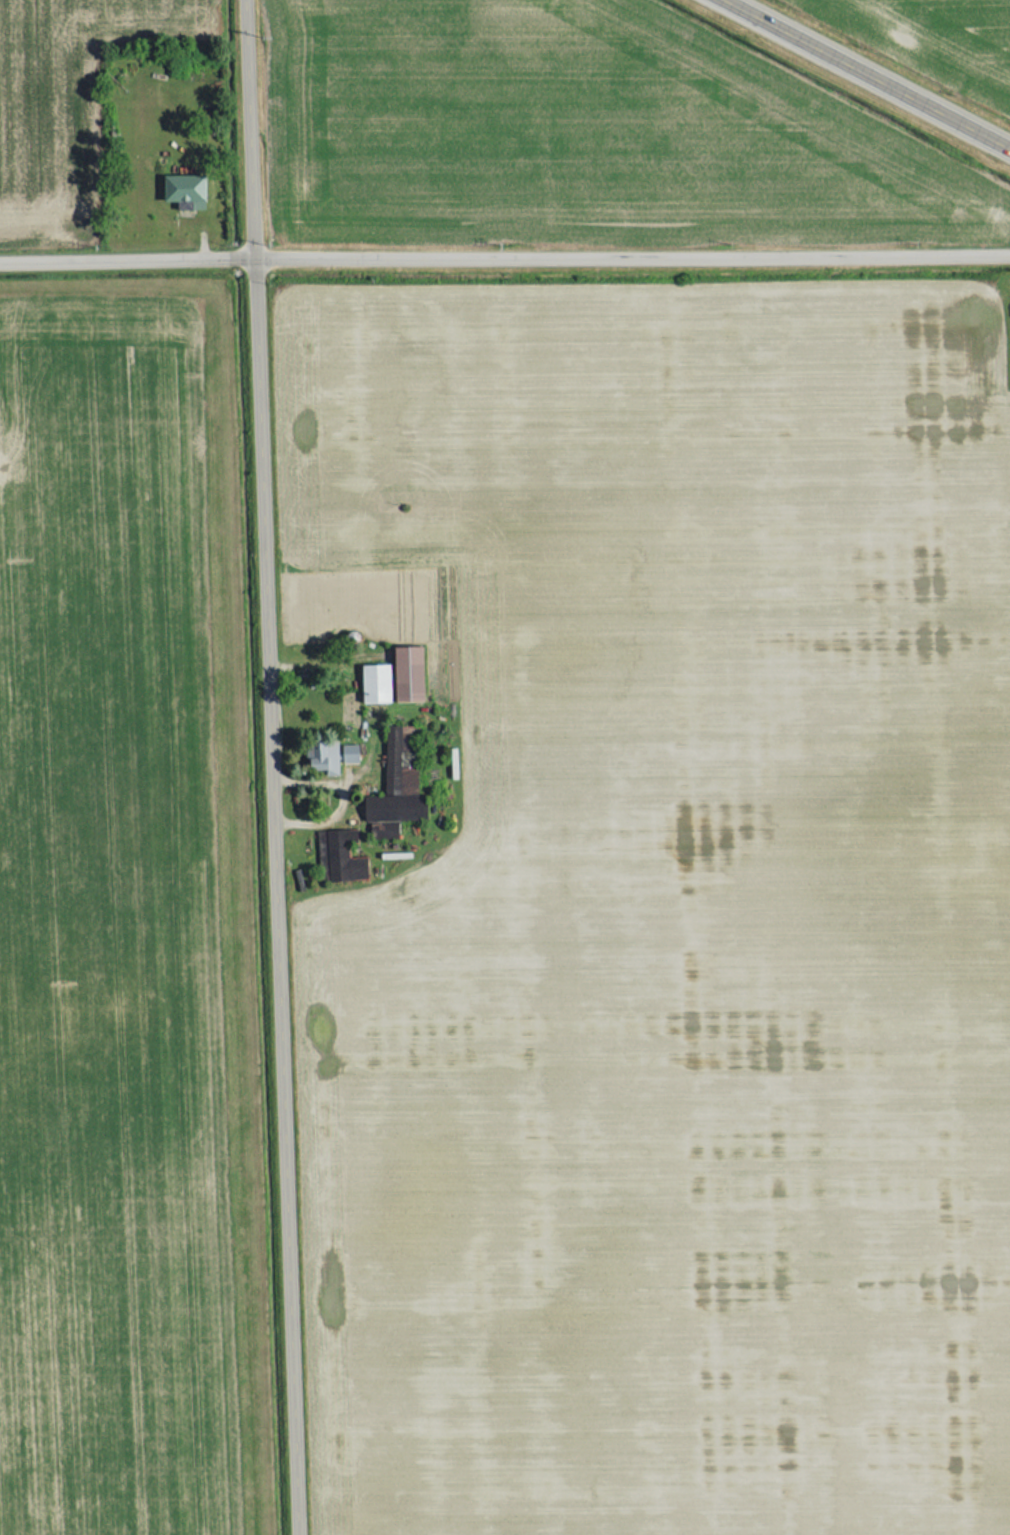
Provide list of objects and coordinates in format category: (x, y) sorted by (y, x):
crop: (935, 39)
road: (876, 70)
crop: (59, 102)
crop: (575, 129)
building: (180, 188)
road: (504, 252)
building: (372, 684)
building: (326, 757)
road: (274, 767)
building: (390, 791)
building: (337, 859)
crop: (671, 912)
crop: (109, 945)

